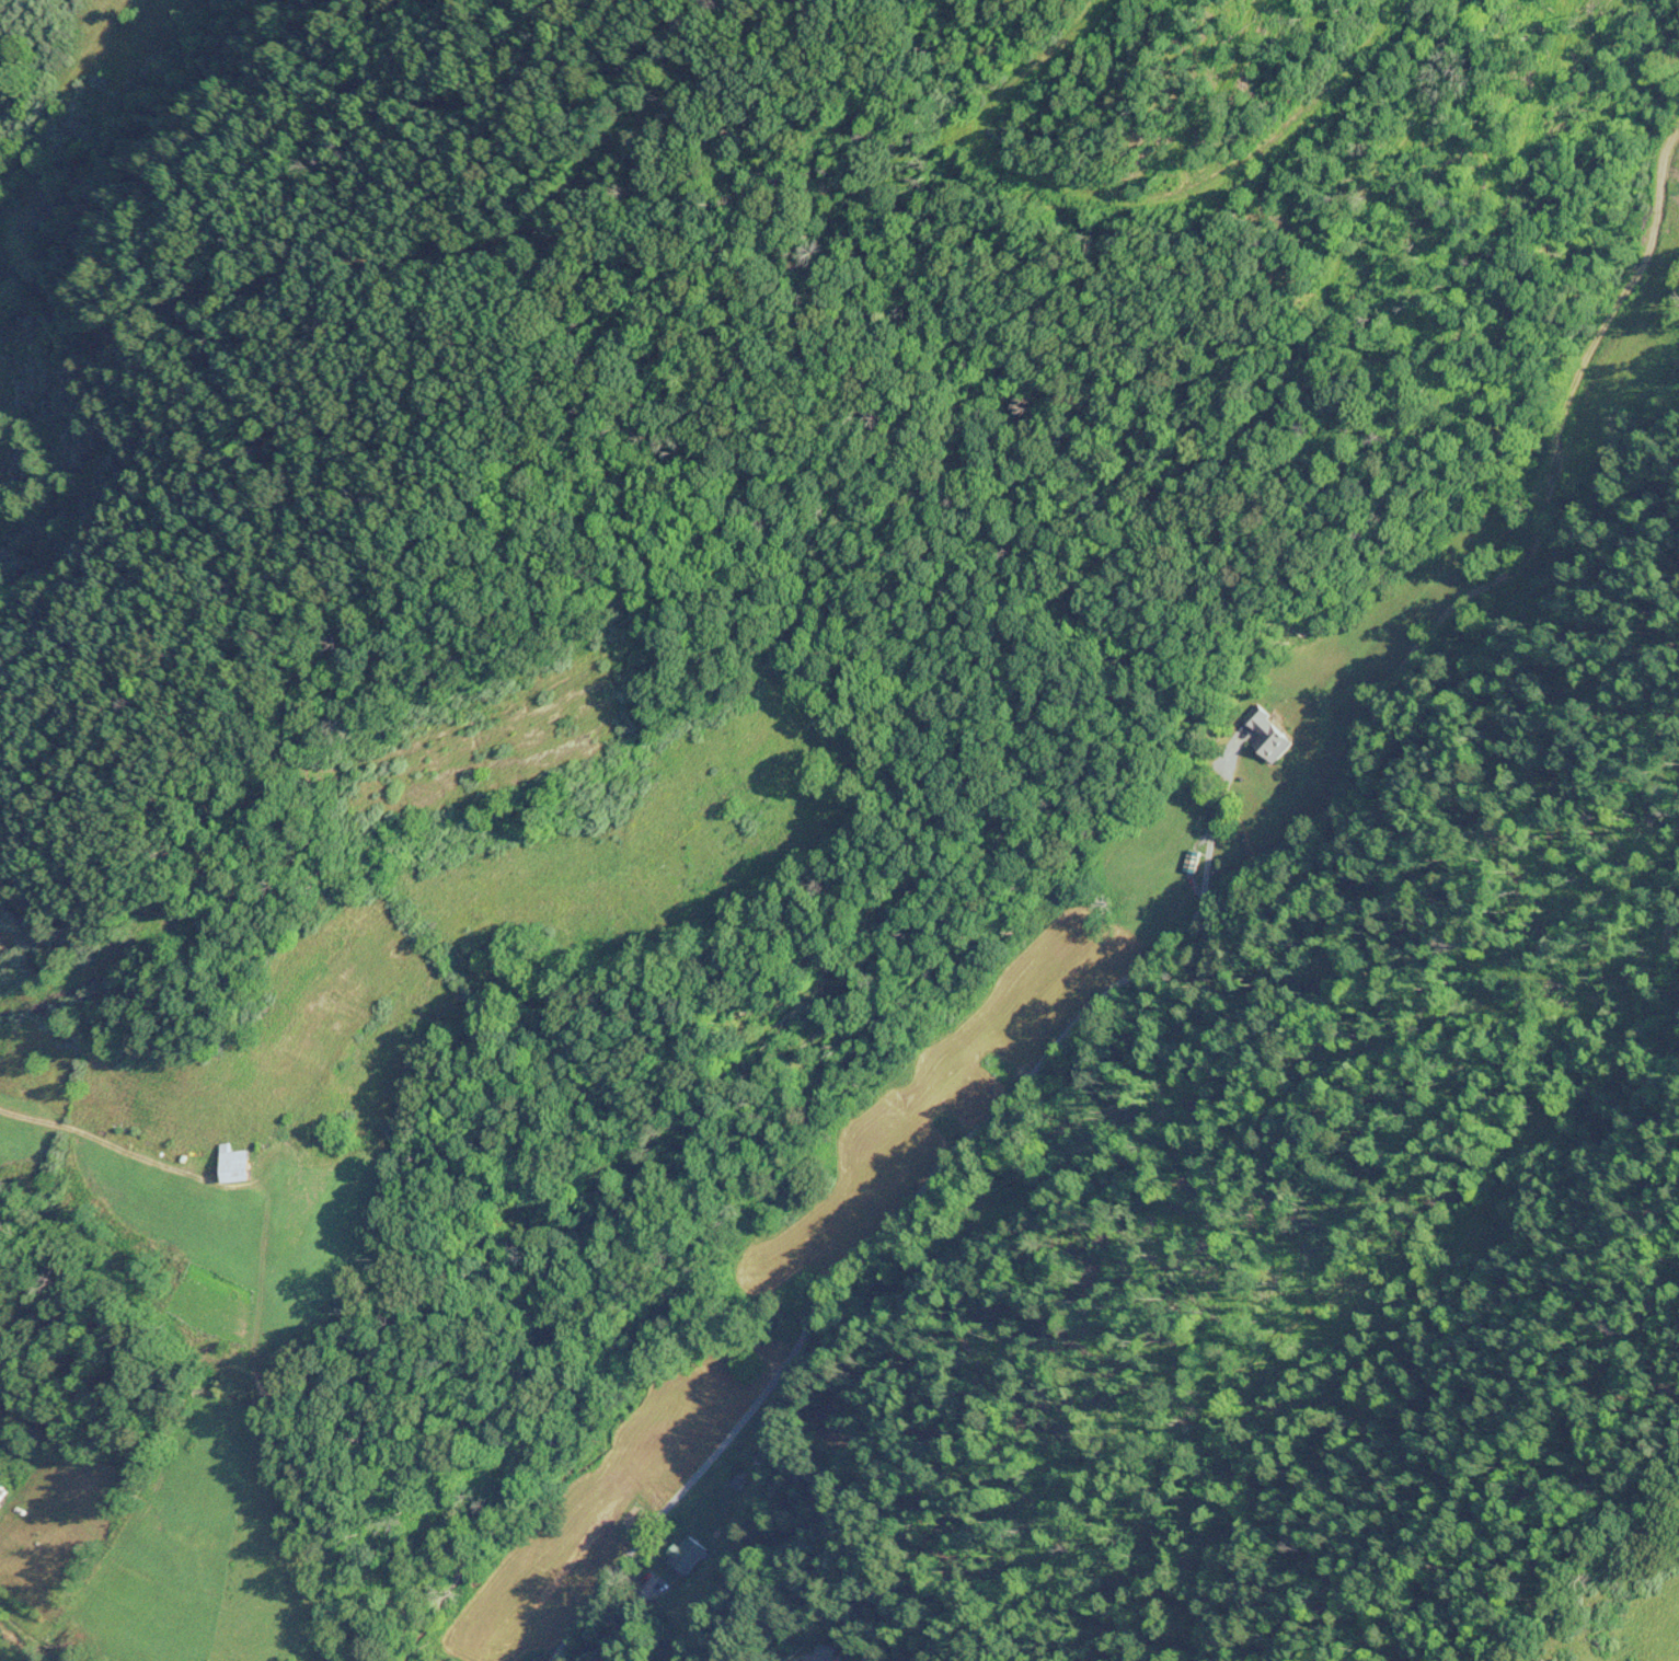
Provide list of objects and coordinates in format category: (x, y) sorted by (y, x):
road: (45, 88)
building: (1270, 735)
road: (1026, 1077)
building: (231, 1161)

